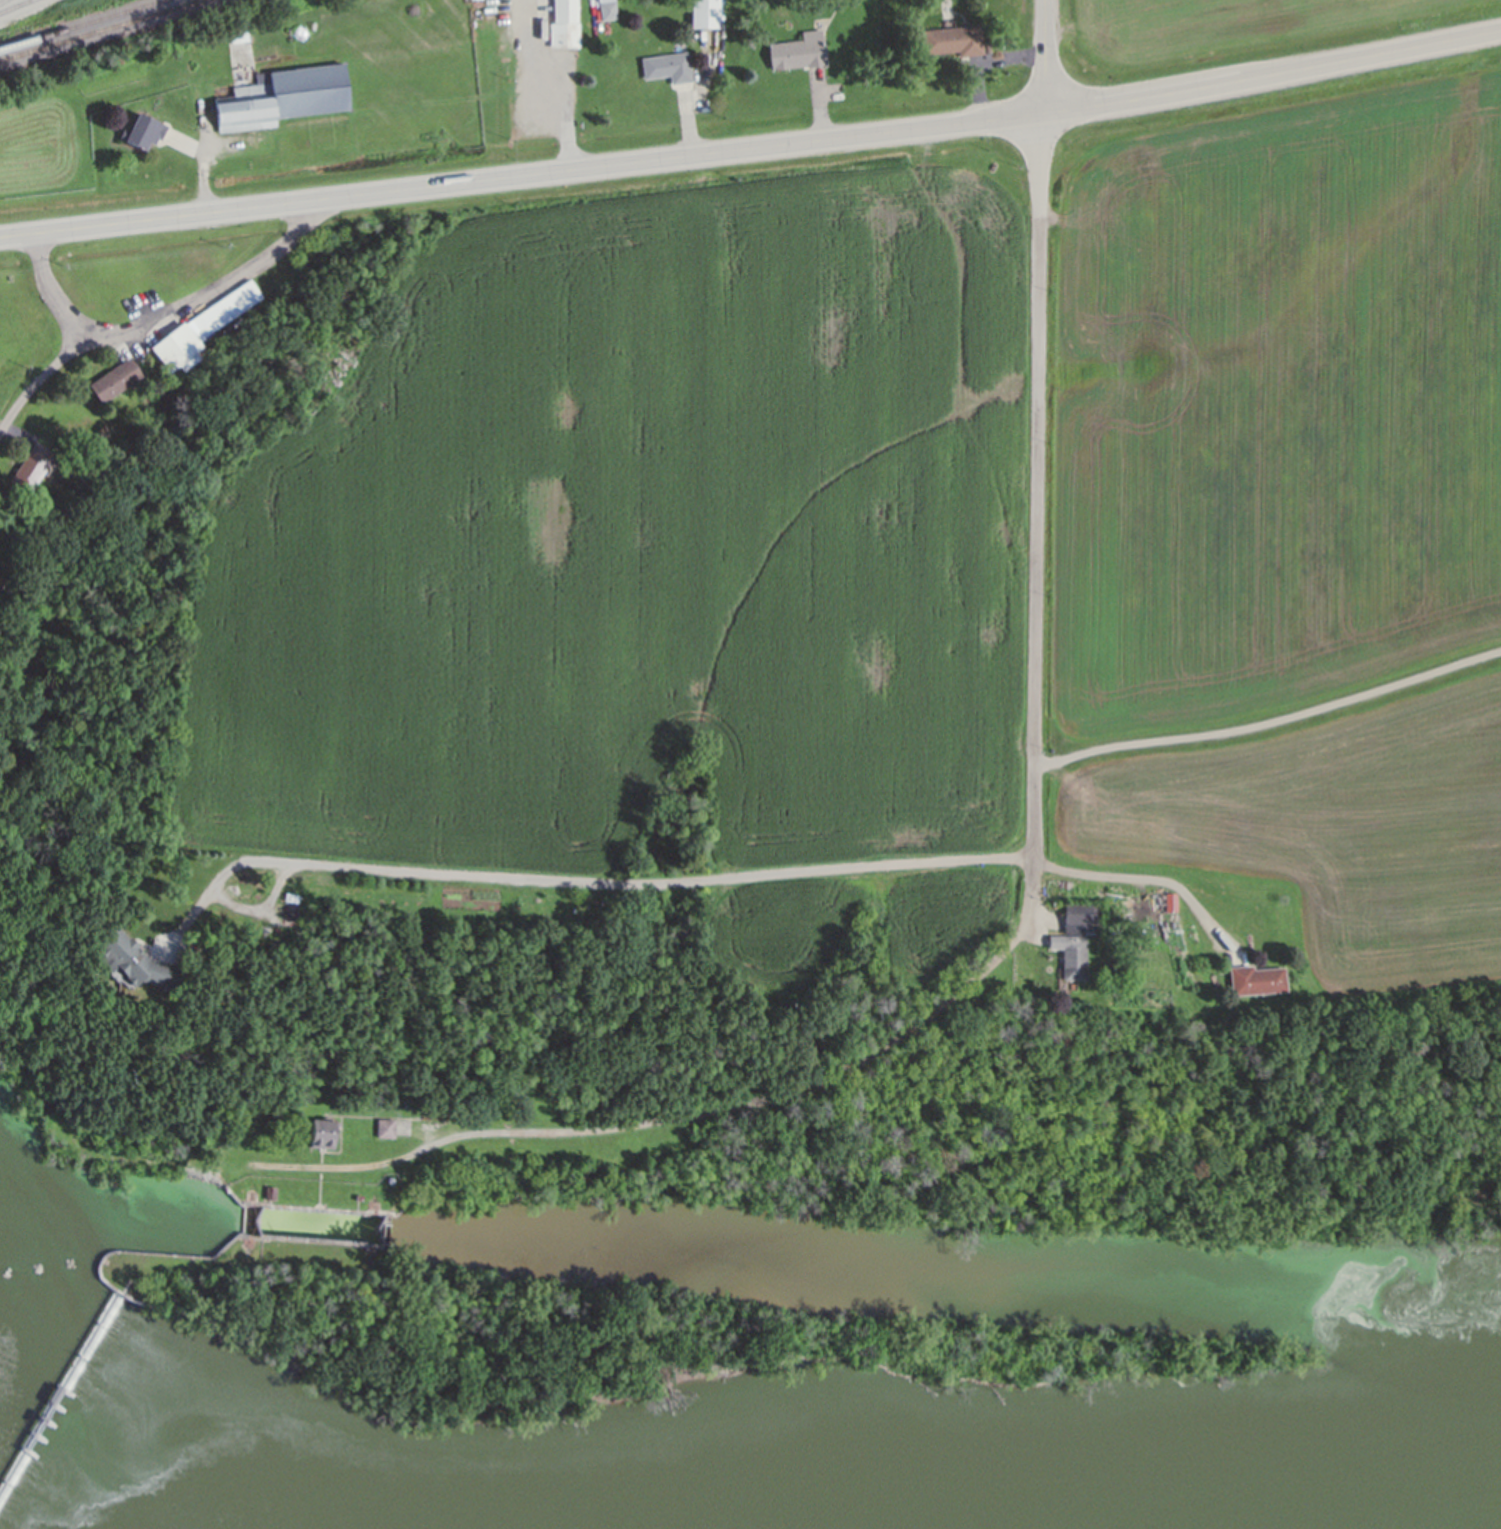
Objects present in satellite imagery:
railway: (4, 2)
railway: (17, 7)
building: (608, 10)
building: (705, 15)
railway: (86, 25)
building: (565, 25)
railway: (101, 30)
crop: (1239, 32)
building: (953, 43)
building: (799, 53)
road: (1044, 56)
building: (668, 68)
road: (1273, 75)
building: (283, 101)
building: (143, 137)
road: (205, 171)
road: (522, 175)
road: (51, 292)
building: (226, 313)
road: (157, 316)
building: (176, 356)
crop: (1269, 361)
building: (115, 386)
building: (33, 474)
crop: (641, 537)
building: (1, 591)
road: (1272, 724)
crop: (1327, 816)
road: (1037, 826)
road: (1149, 879)
road: (593, 885)
building: (291, 901)
building: (1172, 906)
building: (1083, 922)
building: (1072, 959)
building: (135, 968)
building: (1256, 984)
building: (273, 993)
building: (1252, 1044)
building: (435, 1107)
building: (386, 1132)
building: (323, 1141)
road: (374, 1166)
park: (641, 1176)
building: (270, 1189)
park: (513, 1357)
building: (54, 1387)
dam: (56, 1393)
river: (1308, 1489)
river: (75, 1492)

